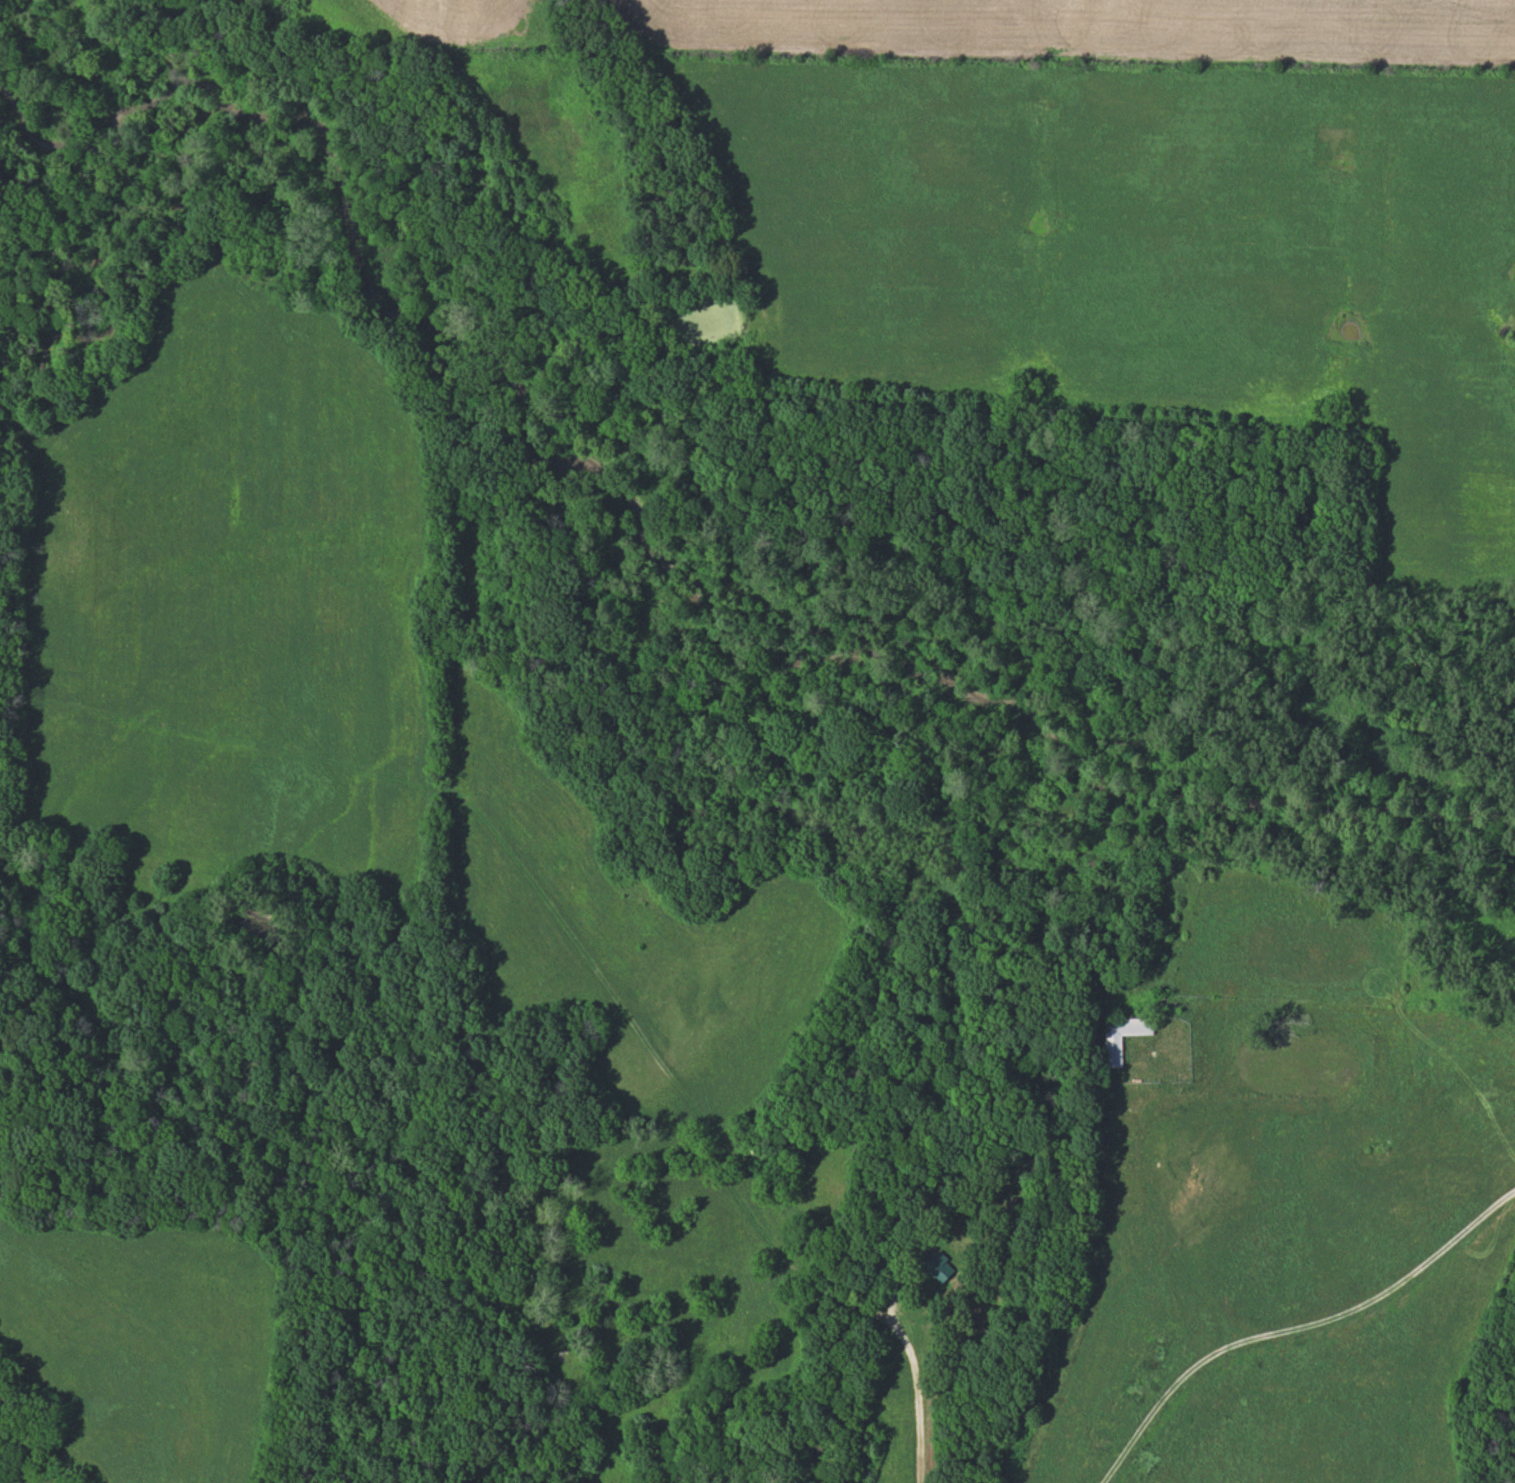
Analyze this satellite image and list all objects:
building: (1110, 1051)
building: (934, 1265)
road: (1276, 1329)
road: (1068, 1362)
road: (916, 1369)
road: (1166, 1394)
building: (810, 1450)

